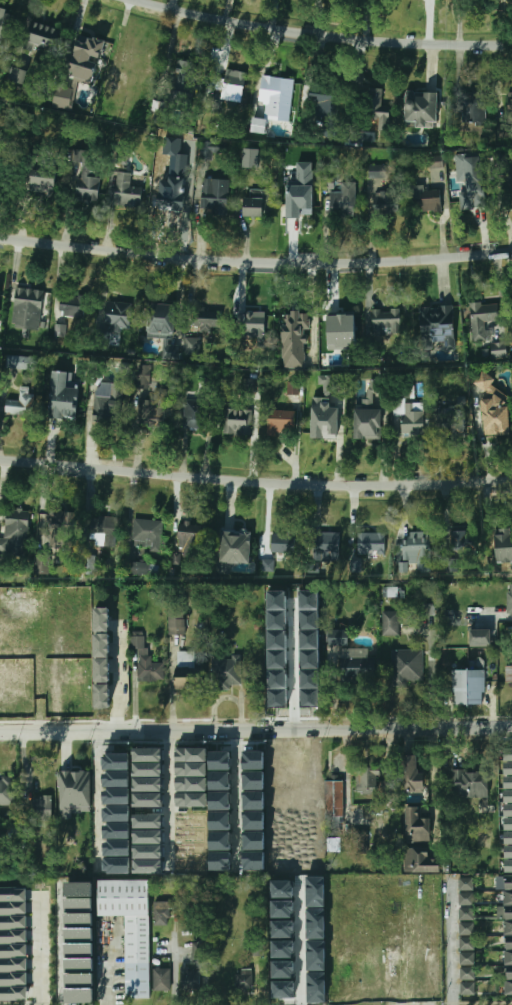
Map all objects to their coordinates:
building: (3, 23)
building: (43, 35)
road: (322, 36)
building: (86, 49)
building: (17, 75)
building: (183, 76)
building: (234, 86)
building: (269, 89)
building: (63, 99)
building: (288, 100)
building: (325, 100)
building: (511, 106)
building: (471, 107)
building: (376, 108)
building: (422, 108)
building: (259, 124)
building: (207, 151)
building: (81, 156)
building: (251, 158)
building: (436, 161)
building: (377, 171)
building: (173, 173)
building: (471, 181)
building: (328, 183)
building: (511, 183)
building: (88, 184)
building: (39, 185)
building: (127, 189)
building: (215, 195)
building: (426, 198)
building: (387, 201)
building: (344, 202)
building: (257, 203)
building: (300, 205)
road: (255, 262)
building: (0, 293)
building: (27, 301)
building: (71, 306)
building: (117, 316)
building: (216, 316)
building: (483, 318)
building: (161, 321)
building: (294, 321)
building: (343, 322)
building: (387, 322)
building: (252, 324)
building: (437, 326)
building: (192, 346)
building: (499, 350)
building: (170, 352)
building: (21, 363)
building: (145, 377)
building: (329, 383)
building: (248, 385)
building: (293, 388)
building: (20, 403)
building: (108, 404)
building: (492, 405)
building: (62, 407)
building: (152, 408)
building: (409, 415)
building: (193, 417)
building: (238, 422)
building: (282, 423)
building: (366, 423)
building: (323, 424)
building: (453, 424)
road: (253, 432)
road: (255, 482)
building: (60, 530)
building: (15, 532)
building: (104, 532)
building: (191, 533)
building: (147, 535)
building: (462, 537)
building: (283, 542)
building: (372, 544)
building: (503, 545)
building: (326, 546)
building: (237, 548)
building: (417, 552)
building: (451, 564)
building: (42, 565)
building: (268, 565)
building: (356, 566)
building: (137, 568)
building: (510, 598)
building: (39, 599)
building: (0, 612)
road: (492, 614)
building: (102, 619)
building: (178, 620)
building: (390, 623)
building: (337, 637)
building: (480, 637)
building: (310, 639)
building: (65, 654)
road: (118, 661)
building: (146, 662)
building: (407, 666)
building: (16, 667)
building: (358, 669)
building: (103, 670)
building: (225, 671)
building: (188, 673)
road: (294, 673)
building: (509, 673)
building: (308, 678)
building: (469, 686)
building: (278, 689)
road: (255, 730)
building: (254, 760)
building: (148, 762)
building: (191, 762)
building: (220, 770)
building: (409, 772)
building: (254, 780)
building: (366, 780)
building: (148, 784)
building: (191, 784)
building: (469, 784)
road: (433, 787)
building: (7, 792)
building: (75, 792)
building: (116, 796)
road: (170, 797)
road: (239, 798)
road: (95, 799)
building: (191, 799)
building: (148, 800)
building: (220, 800)
building: (334, 804)
building: (41, 808)
building: (508, 810)
building: (220, 821)
building: (254, 821)
building: (415, 827)
building: (220, 850)
building: (117, 857)
building: (420, 860)
building: (254, 861)
building: (466, 884)
building: (78, 889)
building: (282, 889)
building: (315, 891)
building: (12, 894)
building: (466, 899)
building: (78, 904)
building: (507, 905)
building: (12, 908)
building: (283, 909)
building: (162, 913)
building: (466, 913)
building: (78, 920)
building: (12, 922)
building: (467, 928)
building: (131, 929)
building: (283, 929)
building: (79, 935)
building: (12, 936)
building: (316, 939)
road: (451, 942)
building: (467, 943)
road: (300, 948)
building: (283, 949)
building: (12, 950)
road: (39, 950)
building: (79, 950)
building: (199, 950)
building: (467, 958)
building: (12, 964)
building: (78, 965)
road: (110, 965)
building: (508, 968)
building: (283, 969)
building: (467, 973)
building: (12, 978)
building: (189, 978)
building: (162, 979)
building: (78, 980)
building: (244, 981)
building: (316, 987)
building: (468, 988)
building: (284, 989)
building: (12, 993)
building: (78, 995)

